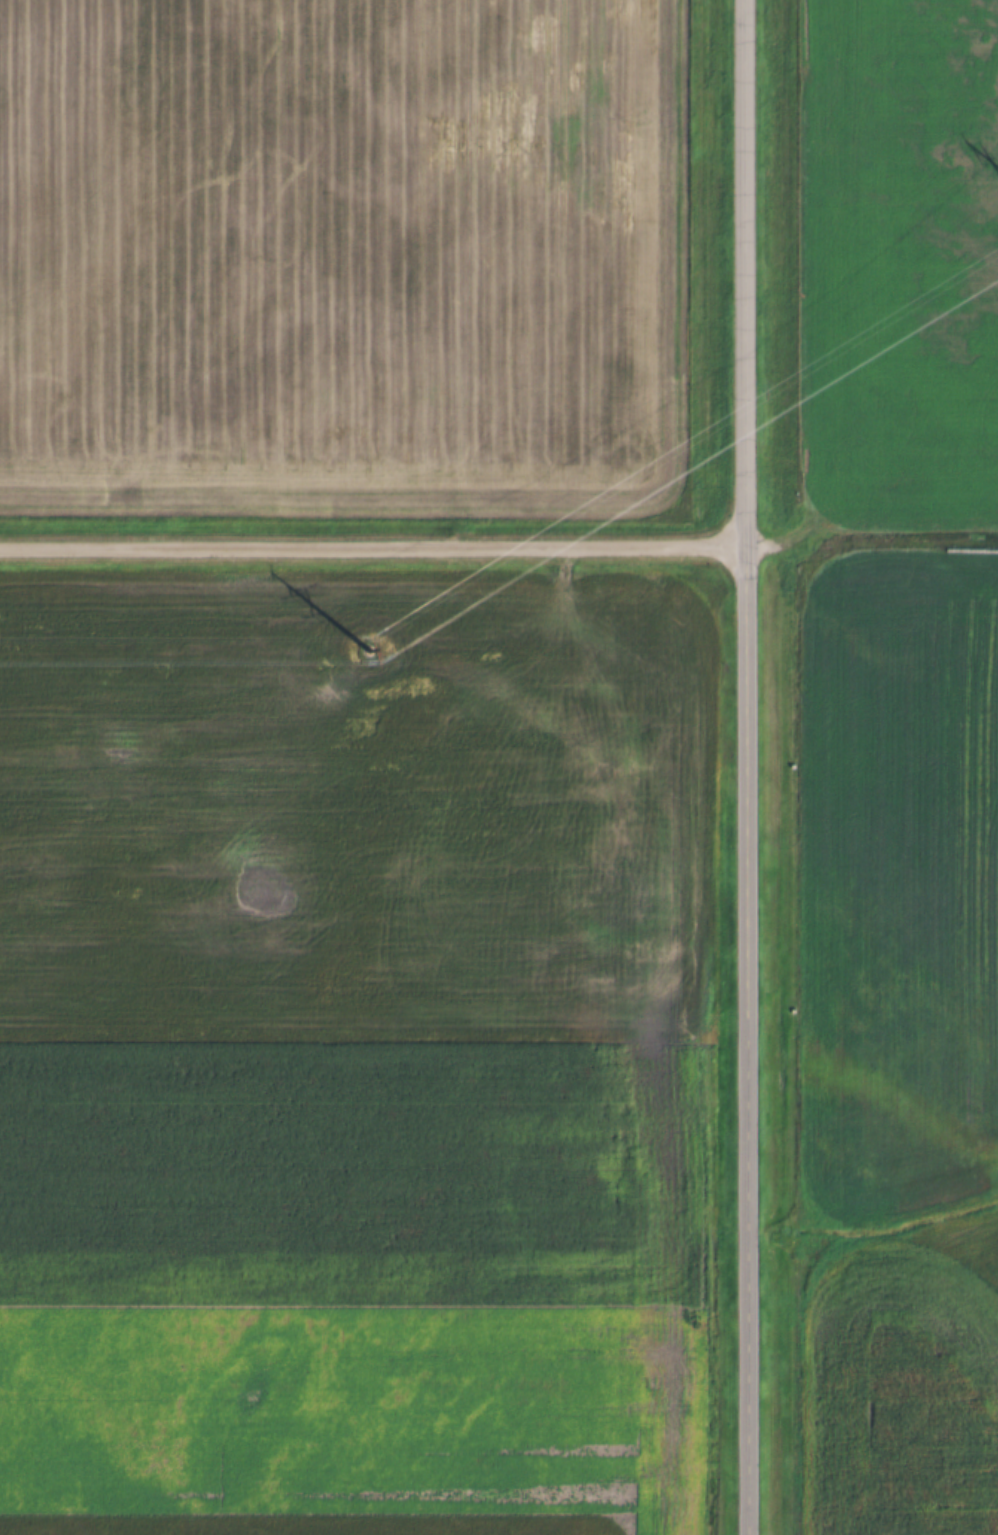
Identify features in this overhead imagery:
road: (742, 272)
road: (870, 534)
road: (371, 546)
power tower: (369, 645)
road: (744, 1039)

